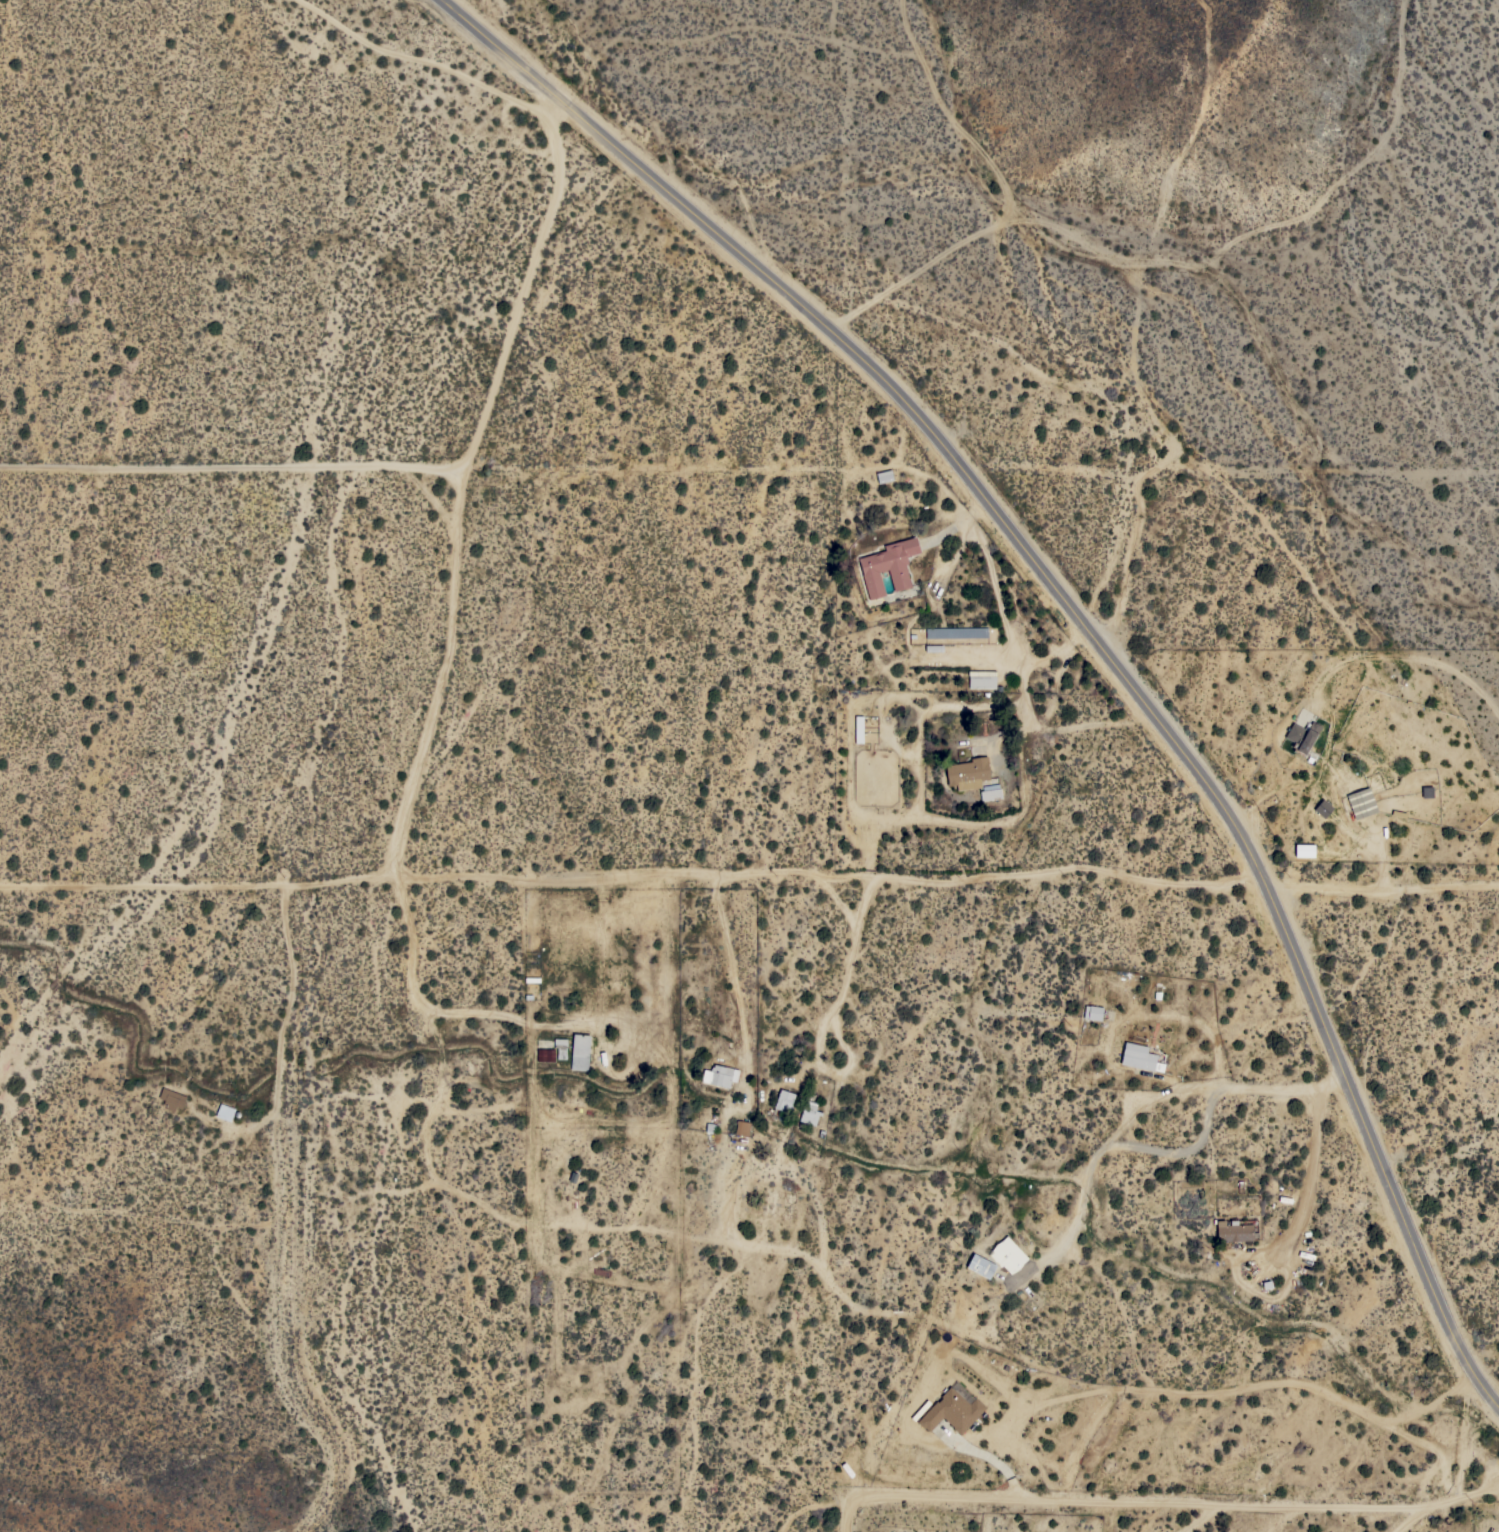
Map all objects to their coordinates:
road: (423, 60)
road: (535, 286)
road: (496, 470)
building: (884, 476)
building: (888, 566)
road: (1083, 618)
building: (956, 632)
road: (1407, 652)
road: (976, 655)
building: (981, 679)
road: (945, 706)
road: (1027, 717)
building: (858, 728)
building: (1302, 736)
building: (968, 773)
building: (990, 791)
building: (1361, 802)
building: (1323, 807)
building: (1304, 850)
road: (634, 874)
road: (1385, 887)
road: (838, 898)
road: (849, 971)
road: (738, 991)
road: (442, 1011)
building: (1093, 1012)
road: (283, 1035)
building: (560, 1047)
building: (580, 1051)
building: (545, 1054)
building: (1139, 1057)
building: (719, 1075)
building: (172, 1098)
building: (783, 1102)
building: (810, 1110)
building: (225, 1112)
building: (742, 1128)
road: (1183, 1149)
road: (1308, 1177)
building: (1235, 1231)
building: (1008, 1254)
building: (980, 1265)
building: (953, 1408)
road: (1186, 1495)
road: (1207, 1515)
road: (1417, 1516)

